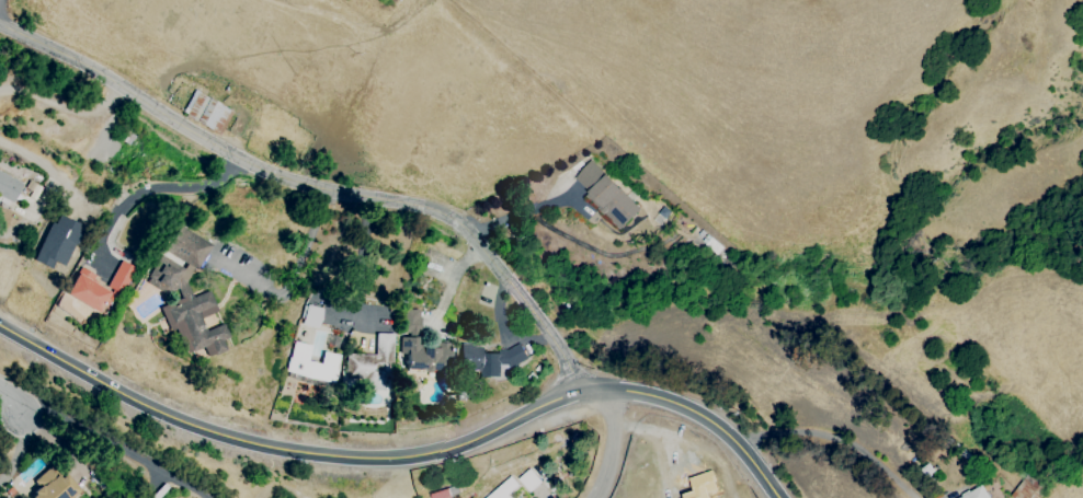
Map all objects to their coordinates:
road: (62, 106)
building: (206, 113)
road: (43, 164)
road: (317, 185)
road: (156, 187)
building: (8, 188)
building: (605, 195)
road: (508, 205)
road: (11, 228)
building: (58, 238)
road: (361, 257)
road: (295, 276)
building: (121, 277)
road: (449, 285)
building: (87, 291)
building: (186, 294)
building: (310, 316)
building: (408, 322)
building: (422, 355)
building: (489, 358)
building: (310, 363)
building: (371, 366)
road: (11, 398)
road: (696, 412)
road: (833, 437)
road: (109, 442)
road: (611, 445)
road: (281, 451)
road: (15, 452)
building: (529, 480)
building: (54, 485)
building: (1027, 488)
building: (505, 489)
building: (440, 494)
building: (973, 494)

